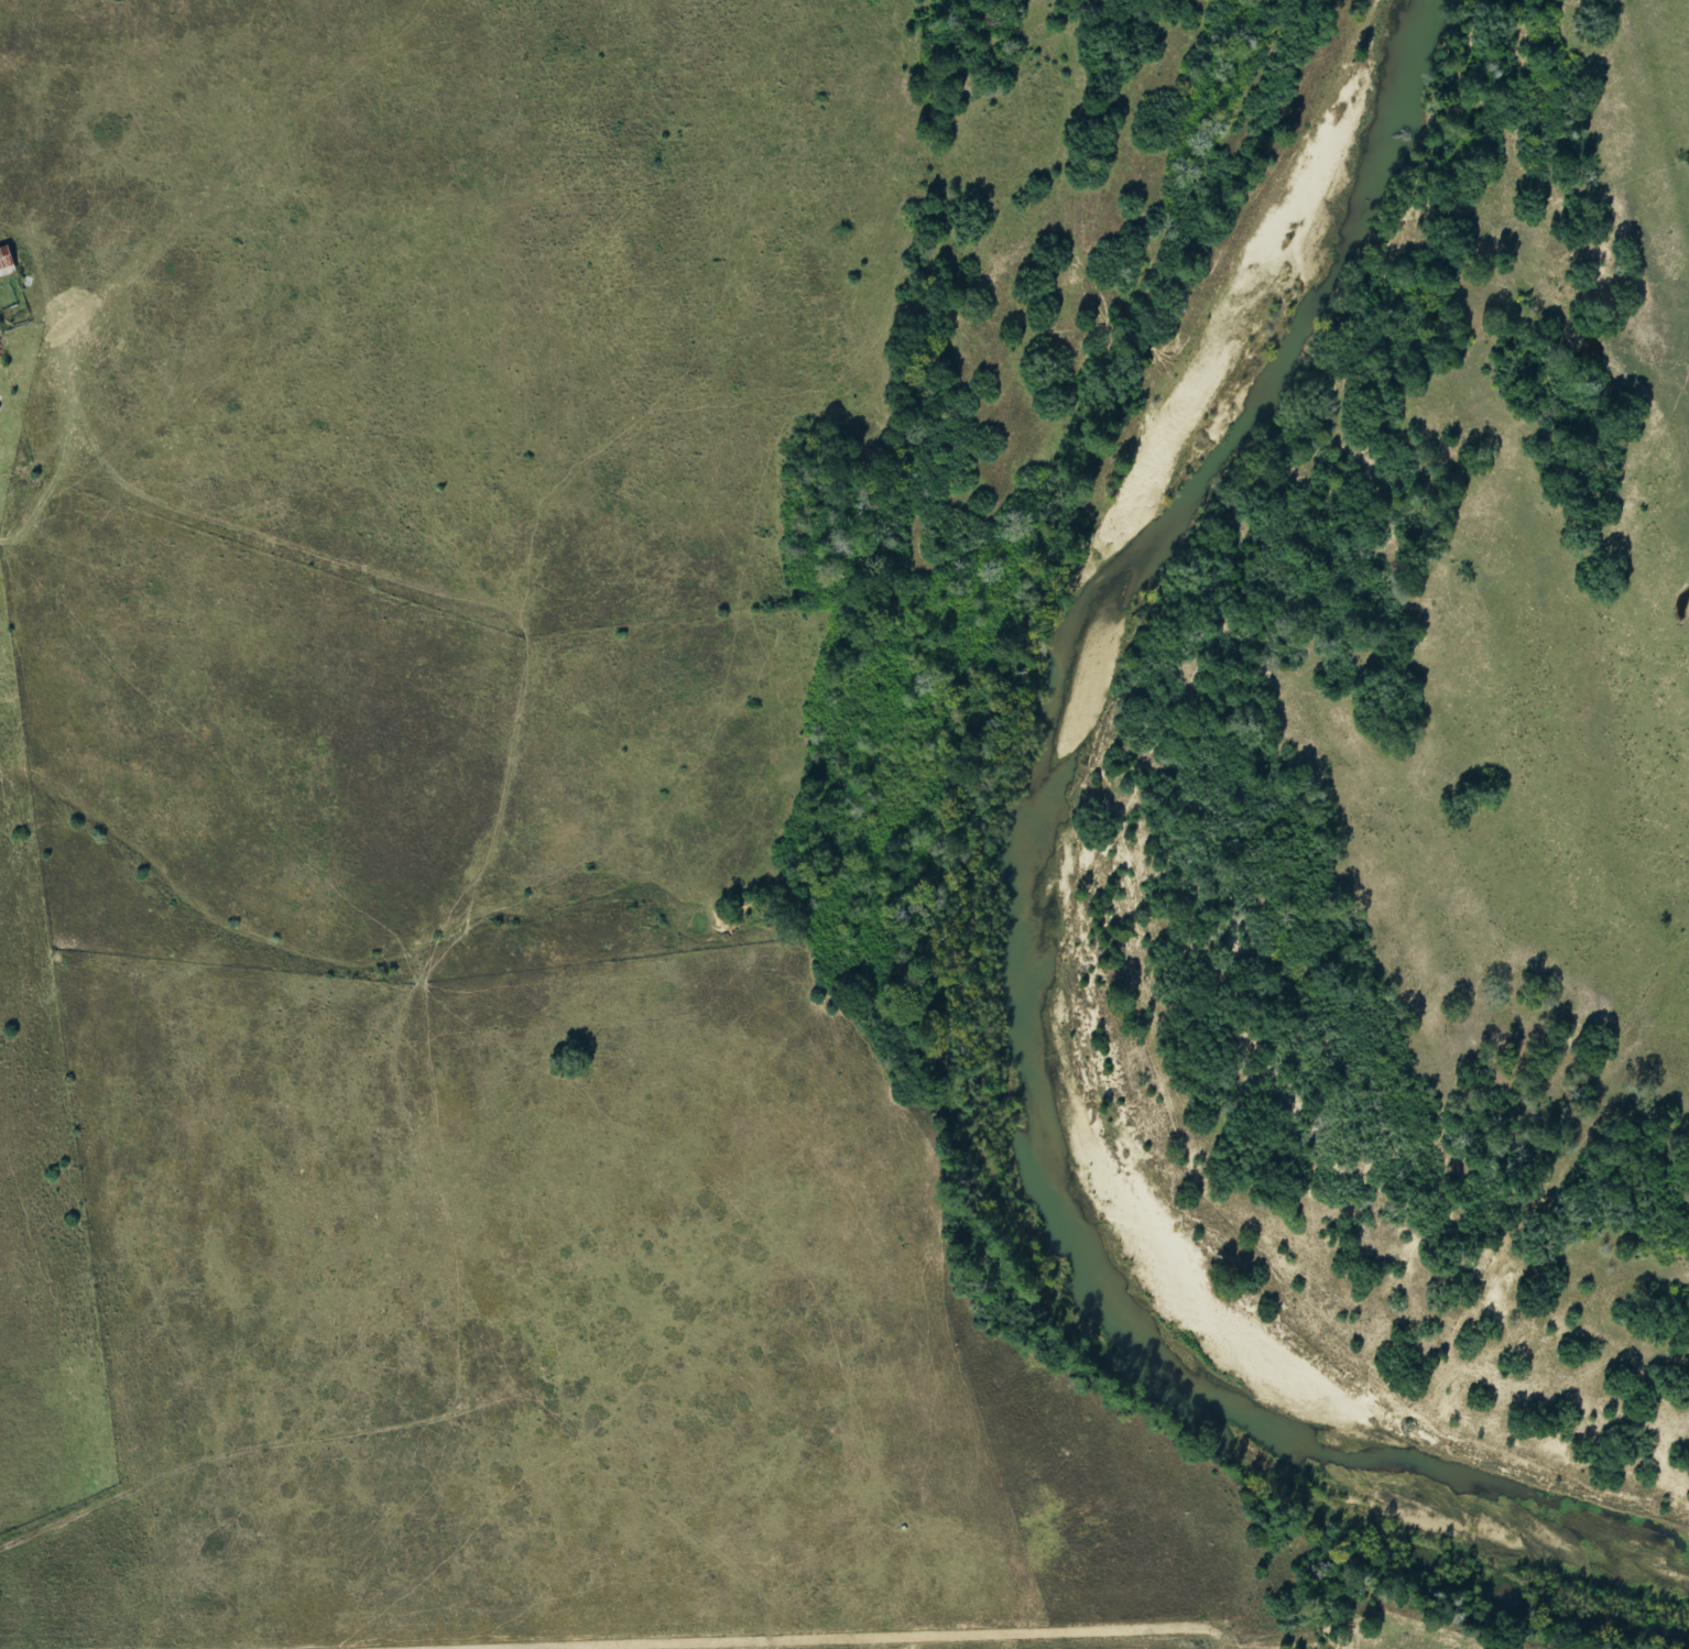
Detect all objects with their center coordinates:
building: (8, 258)
river: (1004, 950)

